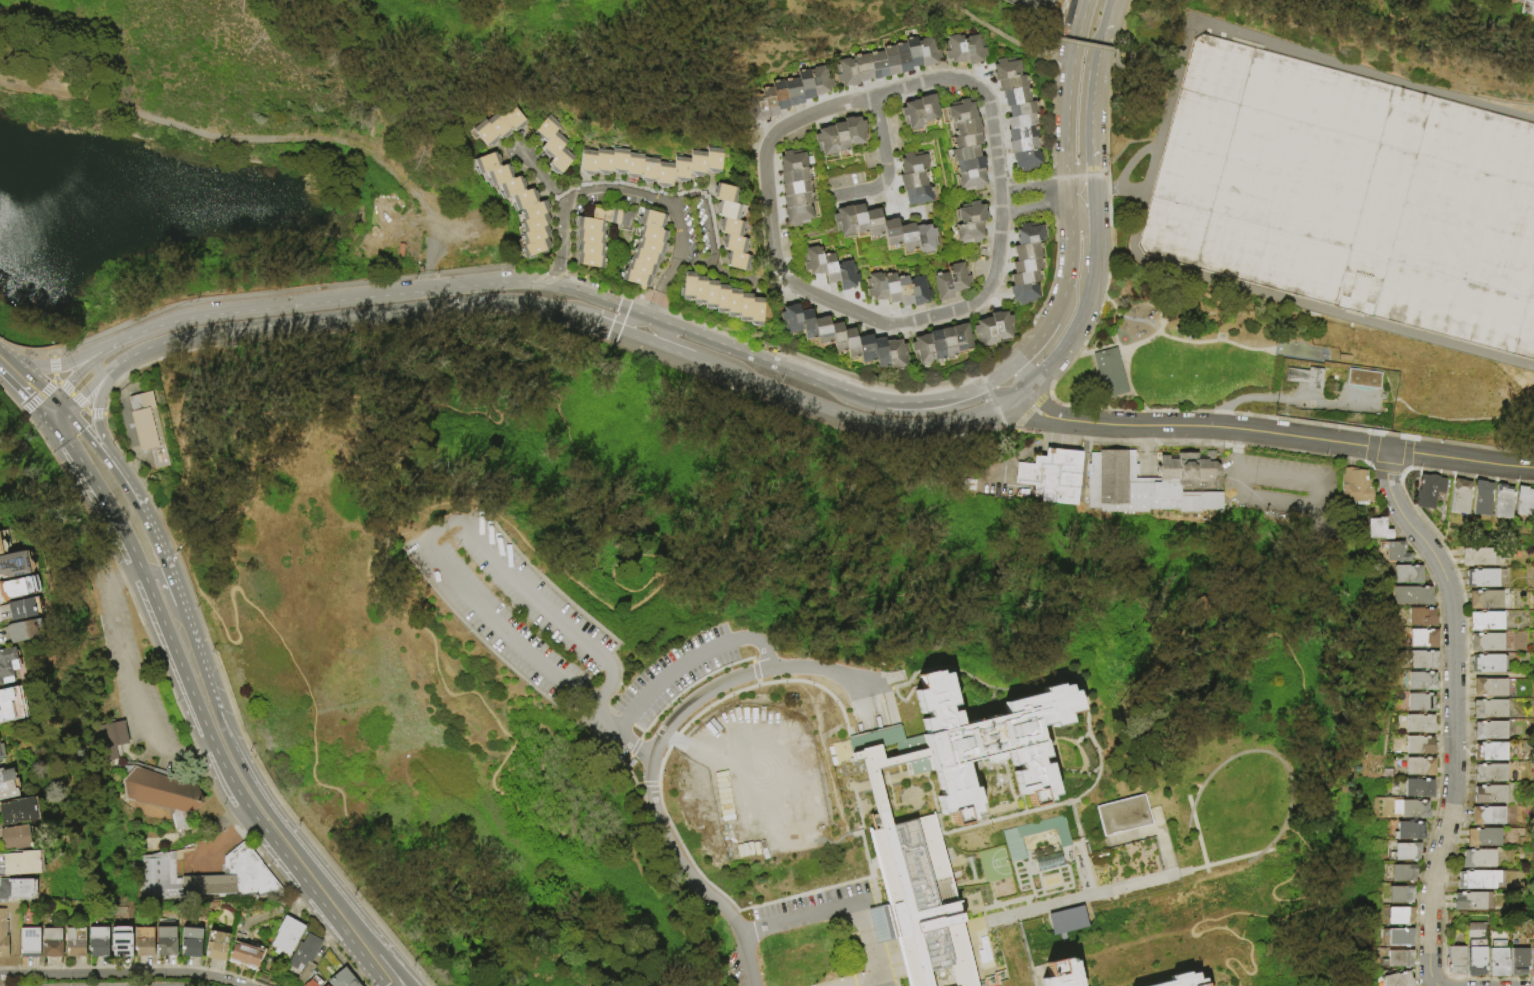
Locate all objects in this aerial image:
building: (1530, 1)
road: (1084, 7)
road: (1069, 12)
road: (1118, 17)
road: (1210, 26)
road: (1103, 27)
road: (1007, 37)
road: (1085, 44)
building: (953, 51)
building: (972, 51)
building: (913, 54)
building: (927, 54)
building: (902, 59)
building: (890, 63)
building: (877, 67)
building: (861, 70)
building: (1005, 71)
building: (845, 74)
building: (819, 83)
road: (1053, 84)
building: (1011, 85)
building: (805, 86)
building: (792, 94)
road: (871, 95)
building: (779, 97)
building: (1015, 98)
road: (1467, 101)
building: (769, 104)
road: (1067, 104)
road: (1090, 105)
building: (754, 109)
building: (1021, 111)
building: (927, 112)
building: (960, 114)
building: (911, 116)
building: (514, 119)
building: (1020, 123)
building: (500, 127)
building: (546, 129)
building: (965, 129)
building: (854, 132)
building: (486, 134)
building: (1021, 135)
road: (253, 138)
building: (840, 138)
building: (825, 142)
building: (965, 143)
building: (553, 145)
building: (1022, 147)
building: (963, 155)
traffic signals: (1090, 157)
building: (560, 161)
building: (1025, 161)
building: (713, 163)
building: (791, 163)
building: (485, 164)
building: (618, 164)
building: (586, 165)
building: (602, 165)
building: (696, 166)
road: (885, 166)
building: (912, 166)
building: (969, 166)
building: (633, 168)
building: (680, 172)
building: (648, 173)
road: (1090, 173)
building: (495, 176)
road: (544, 176)
road: (1081, 177)
building: (663, 178)
building: (793, 178)
building: (969, 182)
building: (911, 183)
road: (1036, 183)
building: (508, 188)
building: (794, 190)
road: (1107, 190)
road: (575, 191)
road: (1052, 193)
building: (725, 194)
road: (682, 195)
building: (917, 198)
building: (520, 199)
road: (1069, 200)
building: (796, 201)
road: (1107, 203)
road: (1034, 204)
road: (1092, 208)
road: (1081, 210)
building: (531, 211)
building: (728, 211)
building: (970, 215)
building: (645, 217)
building: (797, 217)
building: (620, 218)
building: (858, 221)
building: (587, 222)
building: (843, 222)
building: (531, 224)
building: (873, 225)
road: (676, 228)
building: (731, 228)
building: (647, 232)
building: (587, 234)
building: (891, 234)
building: (967, 235)
building: (532, 236)
building: (1028, 236)
building: (907, 239)
building: (924, 240)
road: (712, 243)
building: (648, 244)
building: (734, 244)
building: (586, 246)
building: (532, 249)
road: (1094, 249)
building: (1025, 253)
building: (642, 255)
building: (587, 259)
building: (737, 261)
building: (813, 263)
building: (636, 265)
road: (1069, 265)
building: (1025, 268)
building: (829, 270)
building: (632, 276)
building: (845, 277)
building: (957, 279)
road: (427, 280)
building: (1023, 280)
building: (687, 285)
road: (661, 287)
building: (941, 288)
building: (698, 289)
building: (875, 289)
building: (890, 289)
building: (710, 292)
building: (903, 292)
building: (918, 293)
building: (1022, 295)
building: (721, 297)
road: (341, 299)
road: (604, 299)
building: (732, 301)
road: (1301, 302)
building: (744, 306)
building: (754, 309)
road: (618, 315)
road: (351, 316)
building: (791, 320)
road: (915, 321)
road: (553, 322)
road: (631, 322)
road: (601, 324)
building: (807, 326)
building: (1001, 327)
building: (821, 332)
road: (661, 333)
building: (984, 333)
road: (642, 338)
building: (837, 339)
road: (1038, 339)
building: (961, 340)
road: (1065, 340)
building: (947, 344)
building: (849, 345)
road: (778, 347)
building: (936, 347)
park: (1188, 347)
building: (864, 350)
traffic signals: (1, 351)
road: (24, 351)
building: (921, 351)
building: (879, 354)
road: (51, 355)
building: (895, 355)
road: (64, 362)
road: (88, 364)
road: (53, 368)
building: (1109, 371)
road: (28, 374)
road: (1020, 374)
road: (804, 375)
road: (995, 376)
building: (1306, 376)
building: (1363, 379)
road: (60, 384)
road: (92, 389)
road: (20, 391)
road: (990, 394)
road: (1282, 396)
road: (11, 399)
traffic signals: (56, 400)
road: (62, 407)
road: (49, 408)
road: (1031, 411)
road: (480, 412)
road: (842, 412)
traffic signals: (68, 414)
traffic signals: (42, 416)
road: (281, 419)
road: (60, 421)
road: (47, 422)
road: (1123, 425)
building: (146, 426)
traffic signals: (53, 429)
road: (100, 436)
road: (1314, 439)
road: (1032, 447)
road: (1236, 450)
road: (103, 458)
road: (77, 459)
road: (1461, 461)
building: (1008, 470)
building: (1050, 475)
road: (995, 477)
building: (1354, 486)
building: (1134, 487)
building: (1429, 491)
road: (73, 492)
building: (1460, 496)
building: (1482, 498)
road: (1317, 501)
building: (1503, 501)
building: (1524, 502)
building: (1533, 511)
road: (176, 526)
building: (1377, 530)
road: (153, 532)
road: (473, 535)
building: (3, 542)
road: (180, 549)
building: (0, 553)
building: (1395, 553)
building: (1478, 558)
building: (15, 563)
road: (128, 573)
building: (1407, 574)
road: (117, 579)
building: (1482, 579)
building: (23, 586)
road: (162, 586)
road: (653, 591)
road: (1125, 596)
building: (1411, 596)
building: (1486, 601)
building: (22, 608)
road: (186, 614)
parking lot: (524, 616)
building: (1421, 617)
building: (1486, 622)
building: (21, 630)
road: (744, 639)
building: (1423, 639)
building: (1487, 643)
road: (763, 651)
building: (1416, 660)
road: (157, 661)
building: (7, 662)
building: (1489, 665)
parking lot: (131, 673)
road: (669, 675)
road: (747, 675)
building: (1422, 681)
parking lot: (670, 682)
building: (1490, 688)
road: (214, 696)
building: (1421, 703)
building: (9, 704)
building: (1489, 710)
road: (1455, 711)
road: (236, 716)
building: (1420, 724)
road: (312, 729)
building: (1490, 731)
building: (110, 741)
road: (184, 744)
road: (203, 746)
building: (983, 746)
building: (1419, 746)
building: (1491, 752)
road: (218, 755)
building: (0, 757)
building: (1420, 767)
road: (1286, 772)
building: (1491, 774)
building: (8, 784)
road: (254, 786)
road: (428, 786)
building: (1419, 788)
building: (160, 790)
road: (212, 790)
building: (1490, 795)
road: (511, 800)
building: (1411, 810)
building: (18, 811)
building: (1123, 816)
building: (1487, 817)
road: (247, 824)
building: (1409, 831)
road: (1198, 834)
building: (15, 837)
building: (1483, 838)
building: (1012, 839)
road: (224, 842)
building: (1406, 852)
parking lot: (203, 858)
road: (196, 859)
building: (1479, 859)
building: (21, 862)
building: (1399, 874)
road: (690, 876)
building: (208, 877)
building: (1478, 880)
road: (330, 881)
building: (13, 891)
building: (1400, 895)
road: (1083, 897)
building: (919, 902)
building: (1470, 902)
road: (302, 908)
parking lot: (812, 908)
road: (798, 915)
building: (1399, 916)
building: (1065, 921)
road: (374, 933)
building: (2, 935)
building: (286, 935)
building: (1396, 937)
road: (867, 939)
building: (74, 941)
building: (97, 941)
building: (119, 941)
building: (142, 941)
building: (165, 941)
building: (189, 941)
building: (28, 942)
building: (51, 942)
building: (215, 944)
building: (242, 952)
building: (304, 952)
building: (1391, 959)
building: (1456, 960)
building: (1476, 962)
building: (1519, 962)
building: (1498, 963)
building: (1532, 964)
road: (400, 966)
building: (1056, 973)
road: (122, 974)
road: (886, 976)
building: (341, 978)
building: (1175, 979)
building: (1398, 980)
road: (858, 982)
road: (874, 982)
building: (311, 983)
building: (322, 985)

